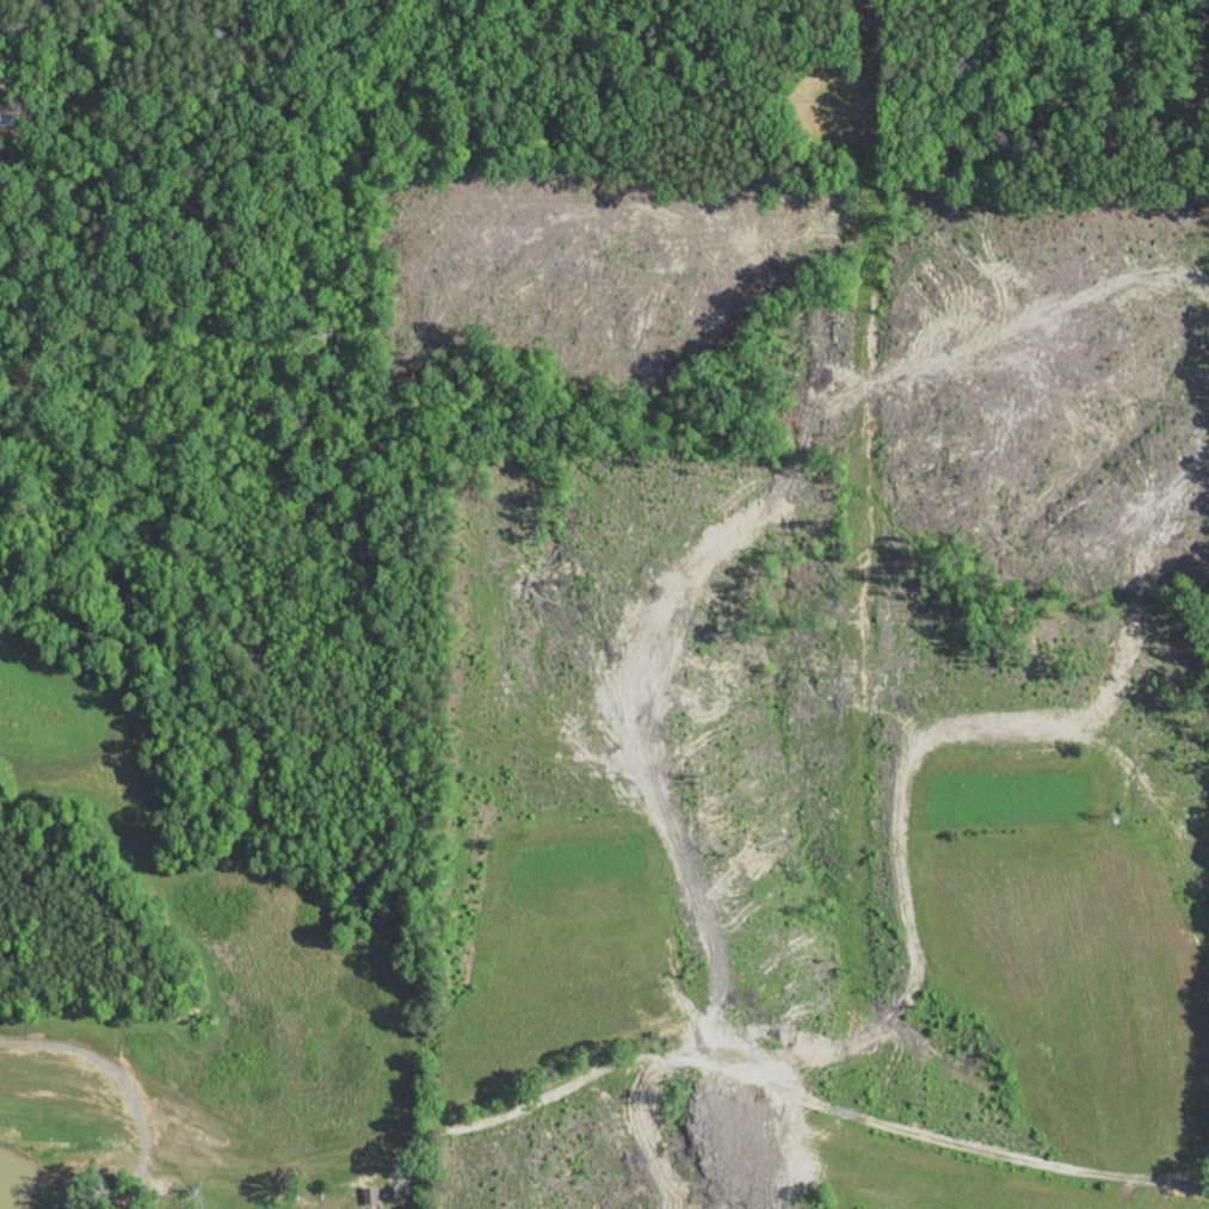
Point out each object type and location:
road: (121, 1081)

